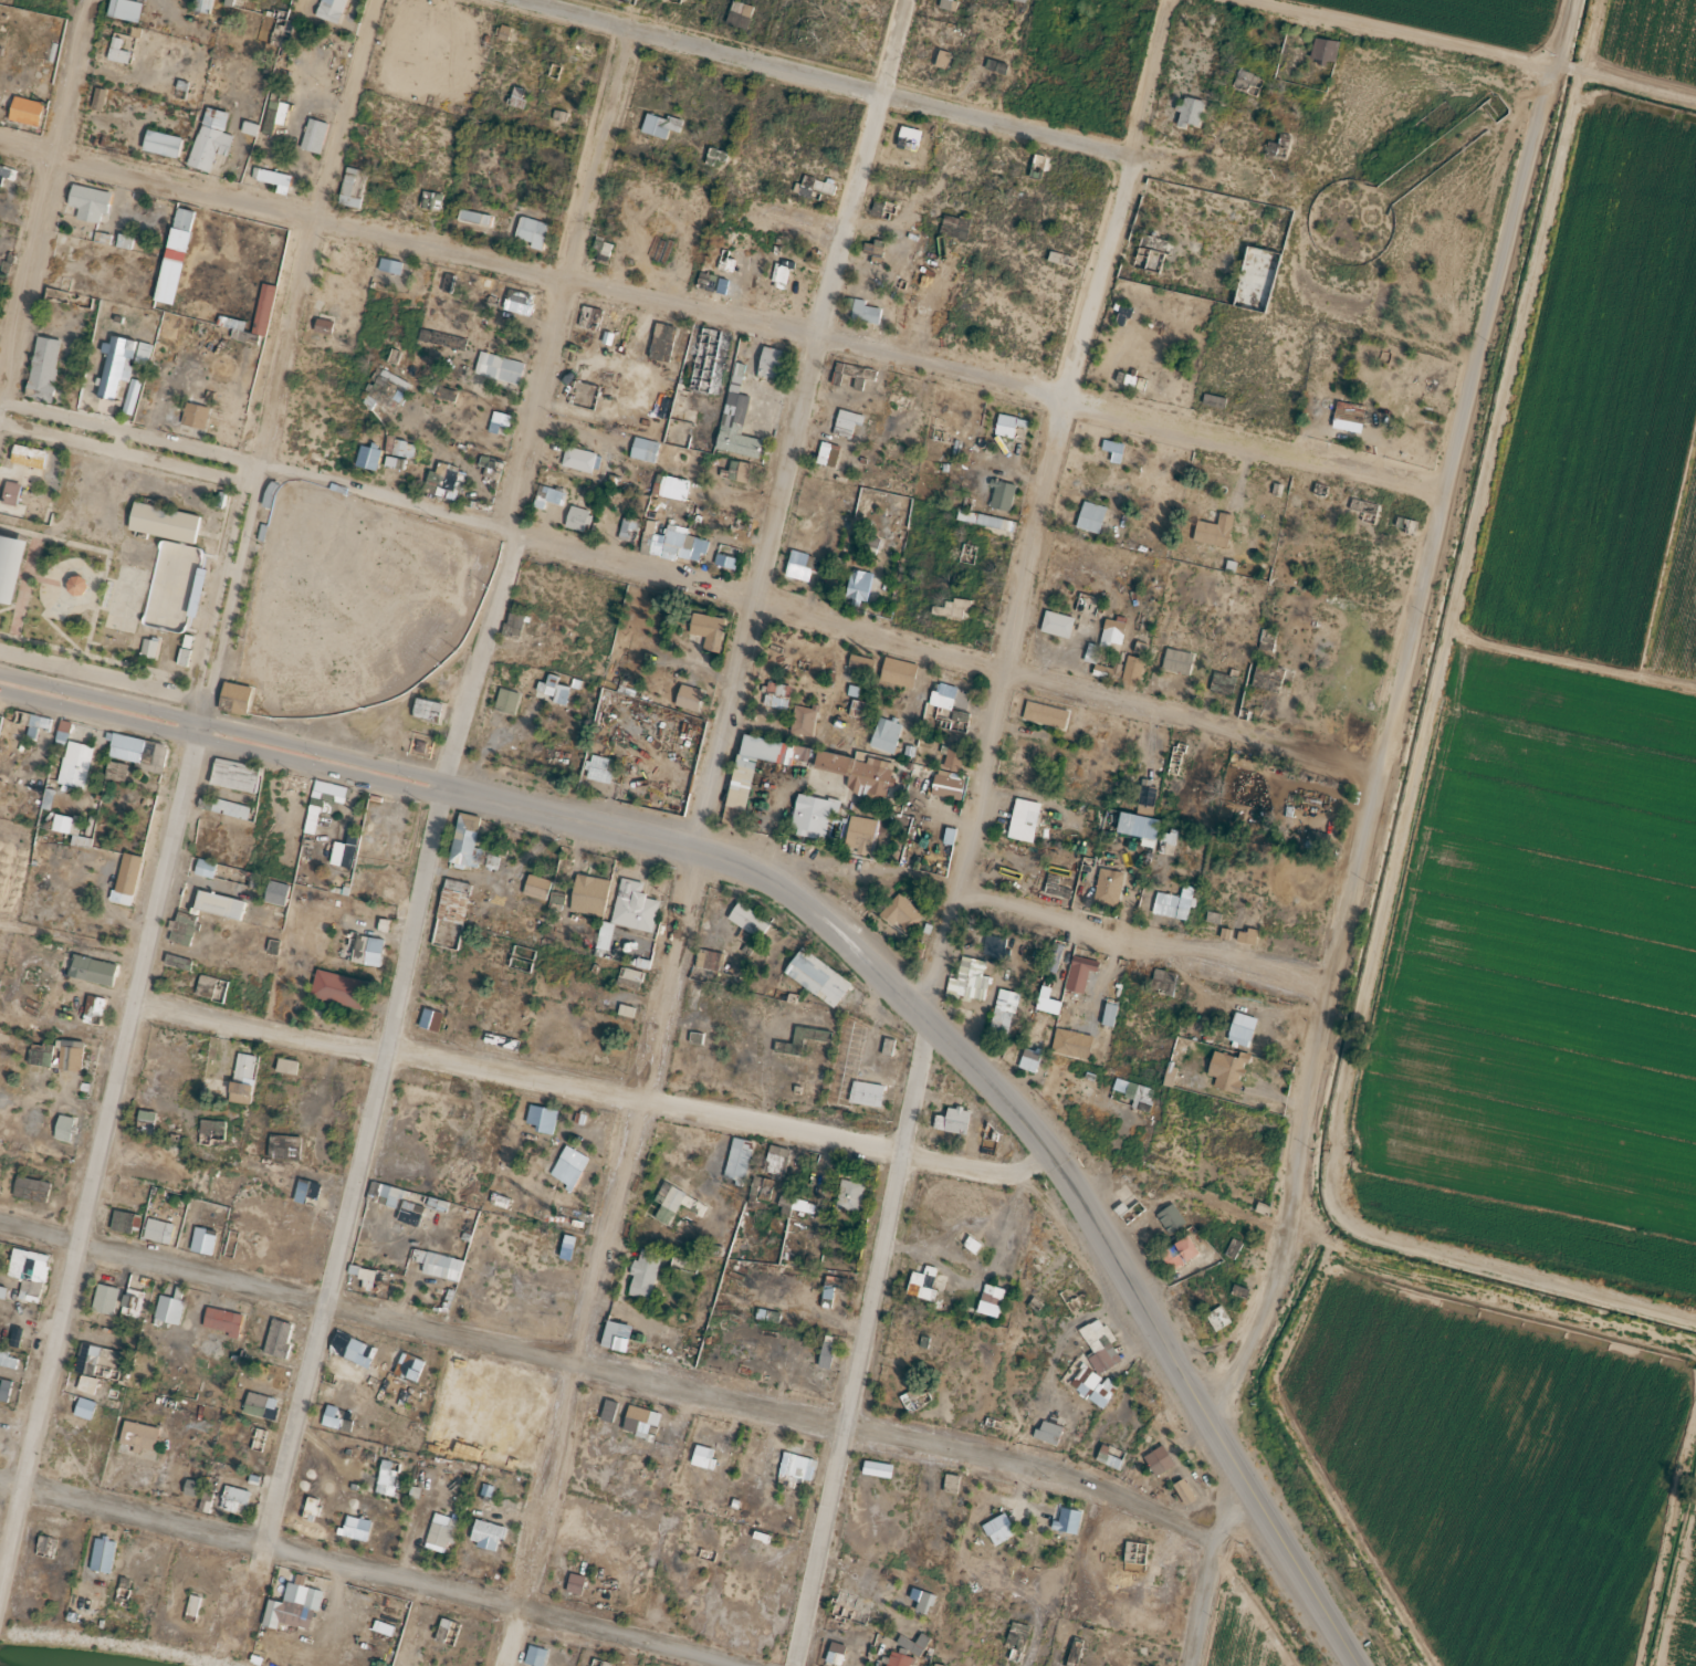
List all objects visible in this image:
road: (1372, 38)
road: (1556, 78)
road: (1631, 95)
road: (886, 101)
road: (41, 170)
road: (305, 222)
road: (718, 324)
road: (125, 438)
road: (109, 447)
road: (242, 457)
road: (250, 459)
road: (122, 461)
road: (218, 575)
road: (203, 601)
road: (220, 605)
road: (810, 626)
road: (220, 730)
road: (176, 745)
road: (185, 747)
road: (217, 748)
road: (1378, 752)
road: (437, 793)
road: (449, 793)
road: (447, 800)
road: (959, 829)
road: (584, 831)
road: (690, 831)
road: (1391, 839)
road: (1017, 919)
road: (585, 1100)
road: (91, 1149)
road: (1170, 1208)
road: (1079, 1219)
road: (626, 1383)
road: (349, 1575)
road: (1194, 1595)

